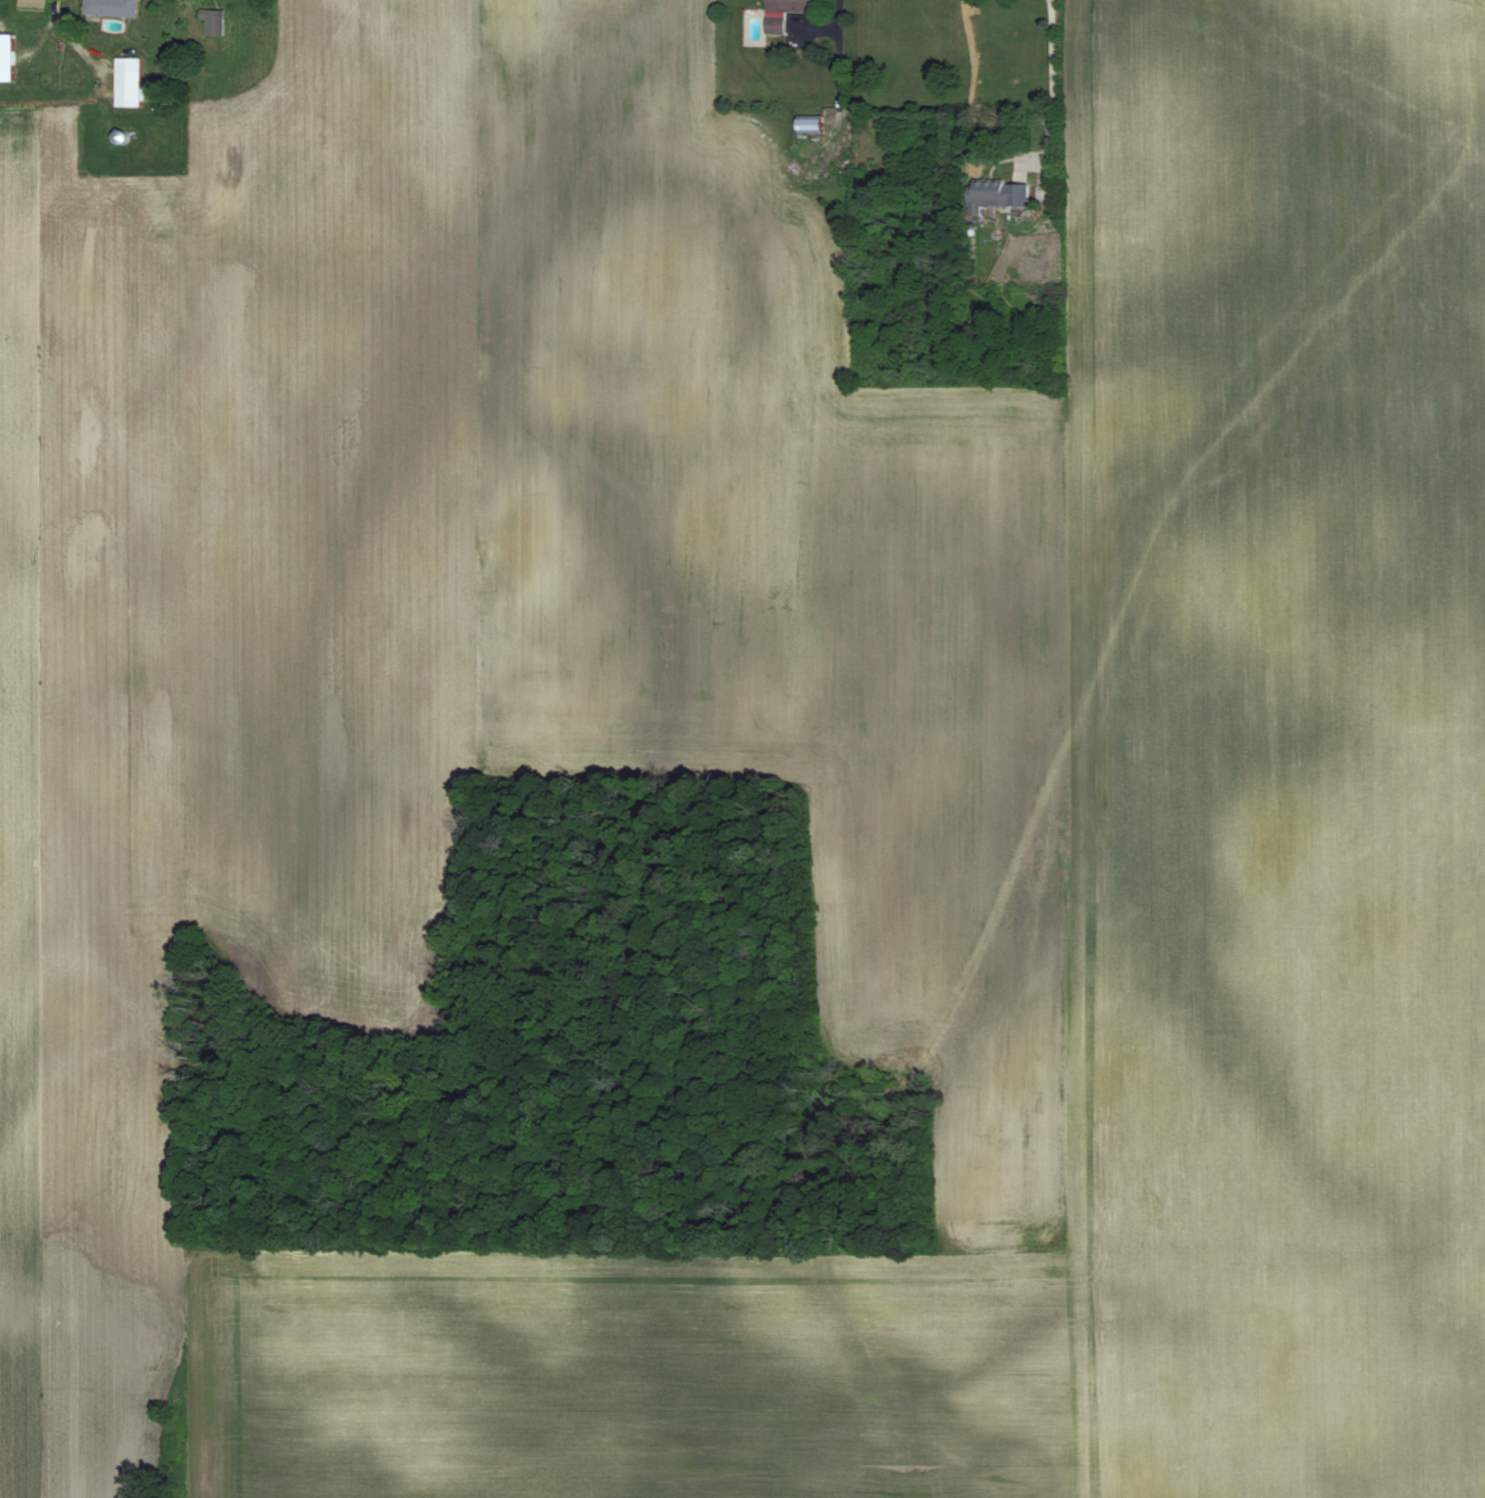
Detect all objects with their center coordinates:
building: (113, 7)
building: (782, 13)
road: (838, 21)
building: (214, 22)
building: (7, 57)
road: (1050, 80)
building: (129, 82)
road: (972, 82)
building: (807, 125)
building: (996, 195)

